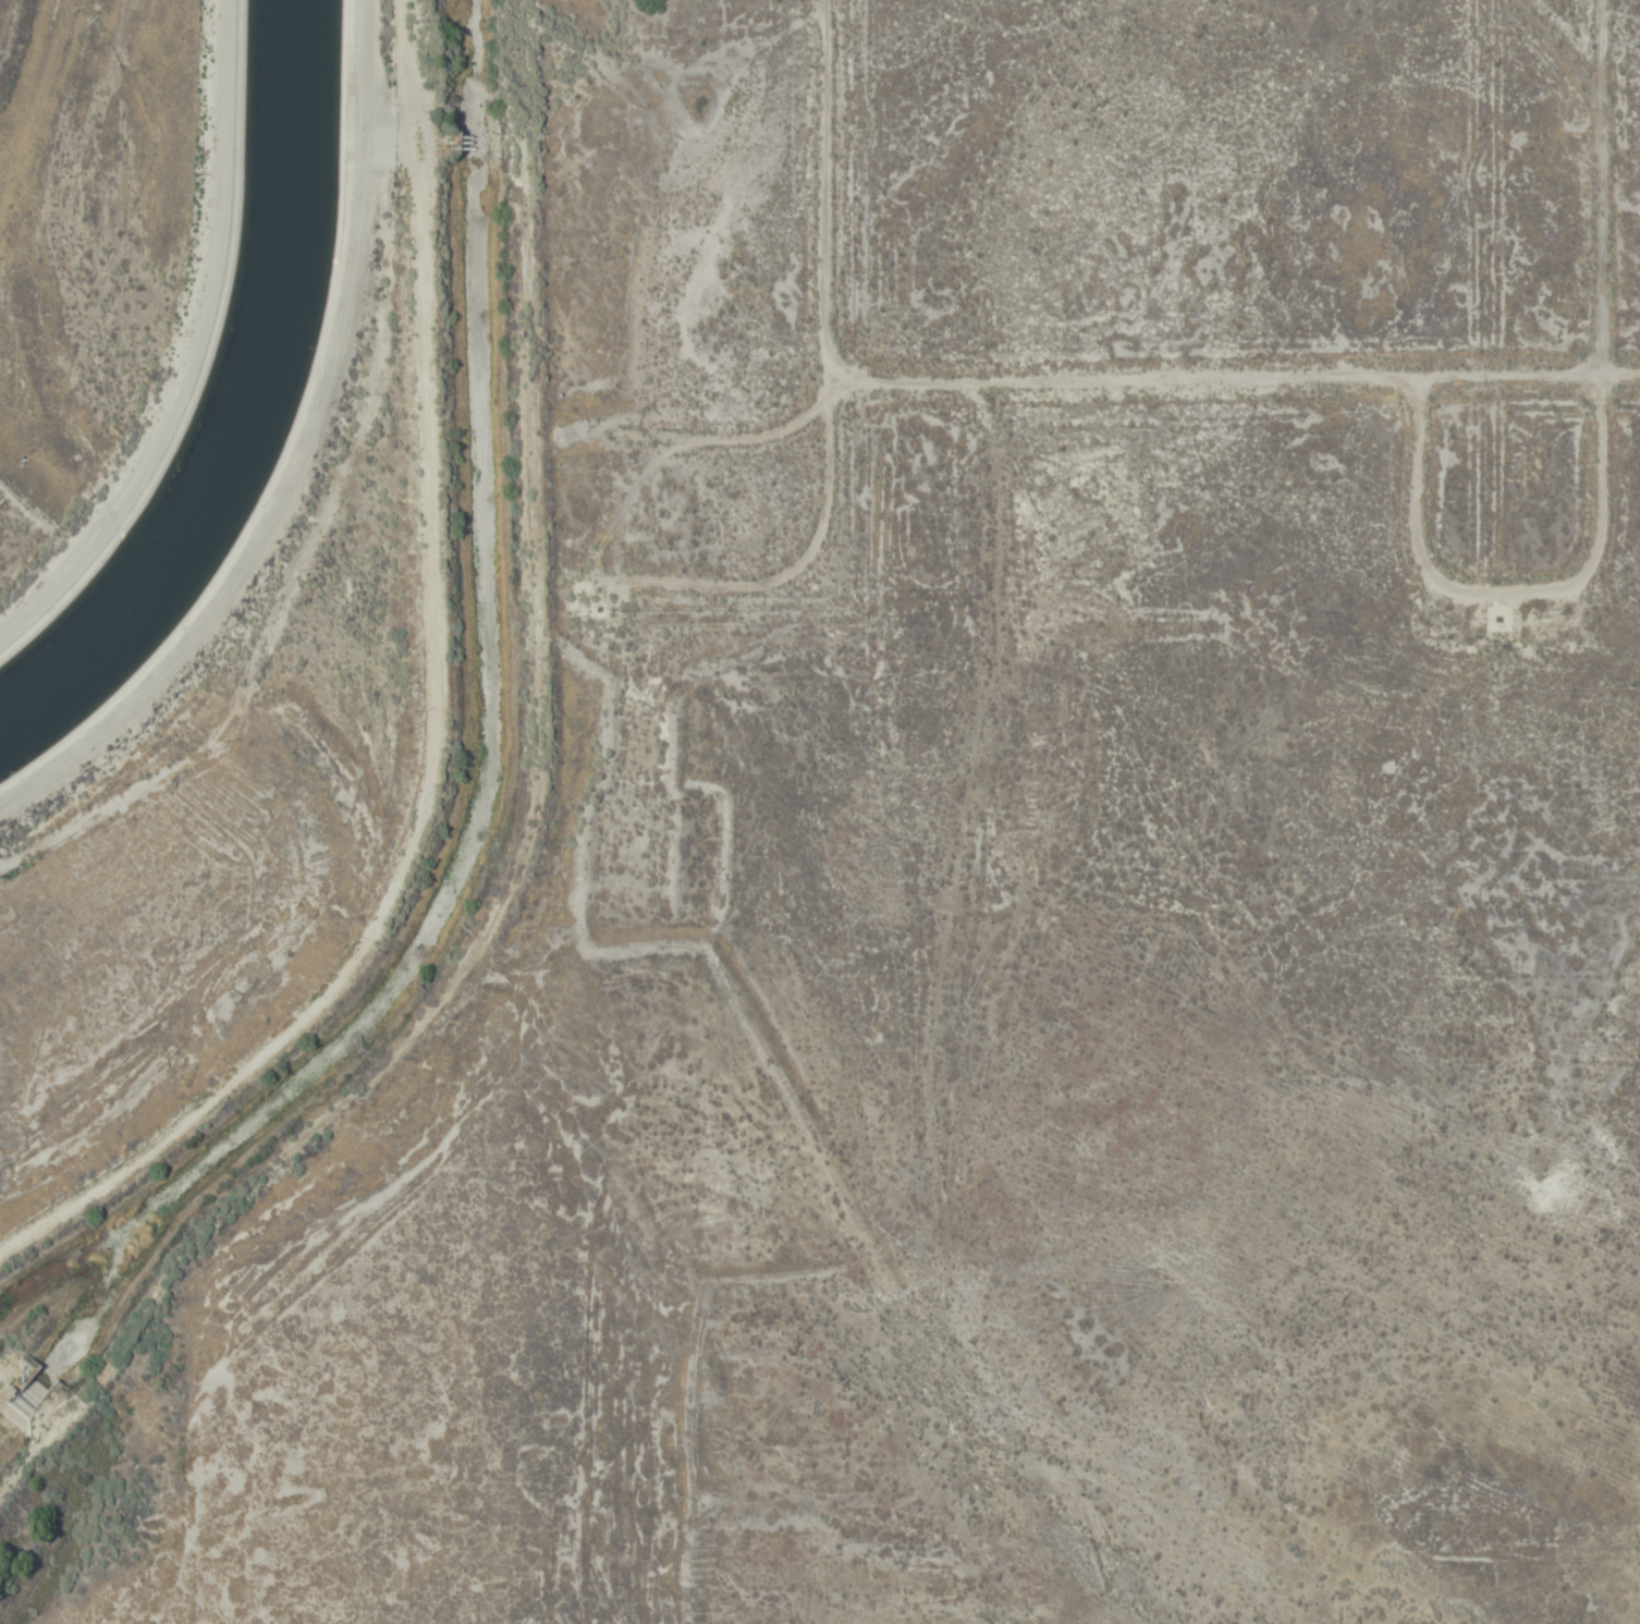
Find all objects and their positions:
road: (1570, 123)
road: (822, 202)
road: (194, 350)
road: (1232, 384)
road: (297, 456)
road: (1611, 554)
road: (671, 613)

